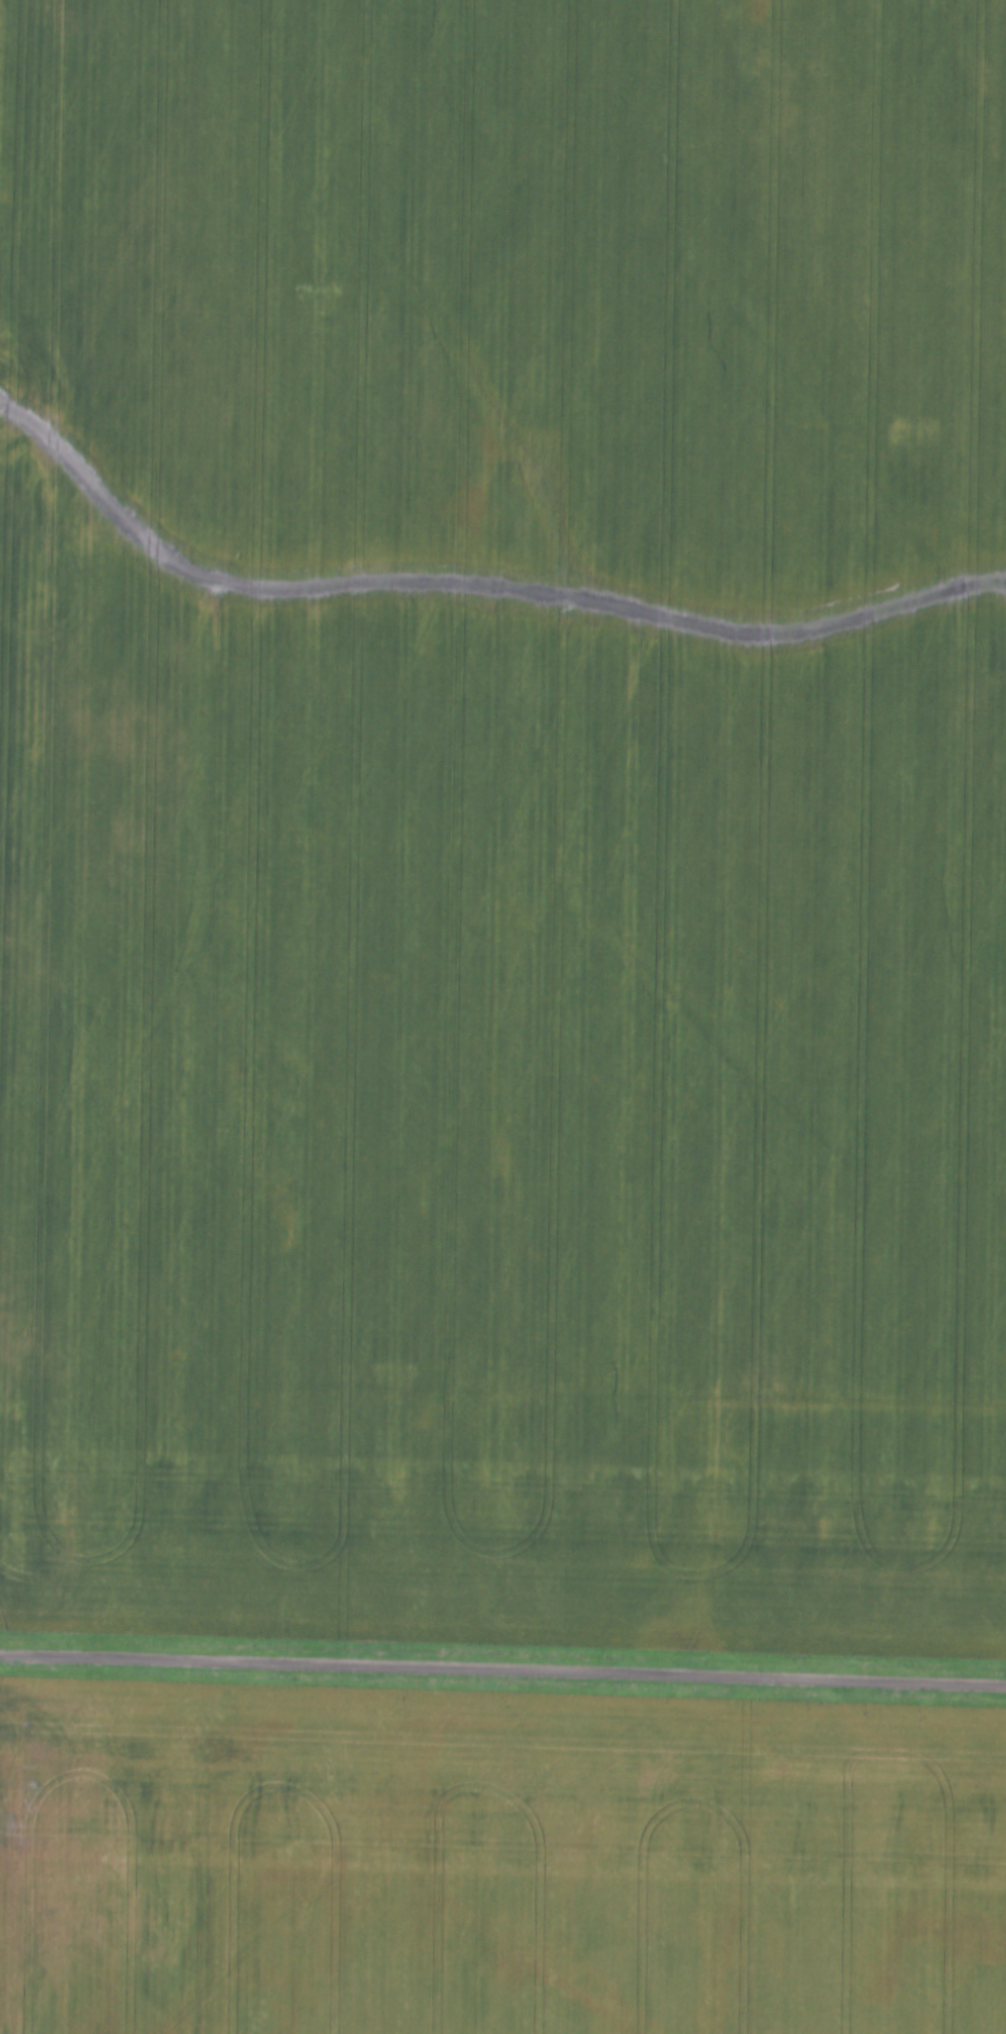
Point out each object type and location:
road: (503, 1670)

